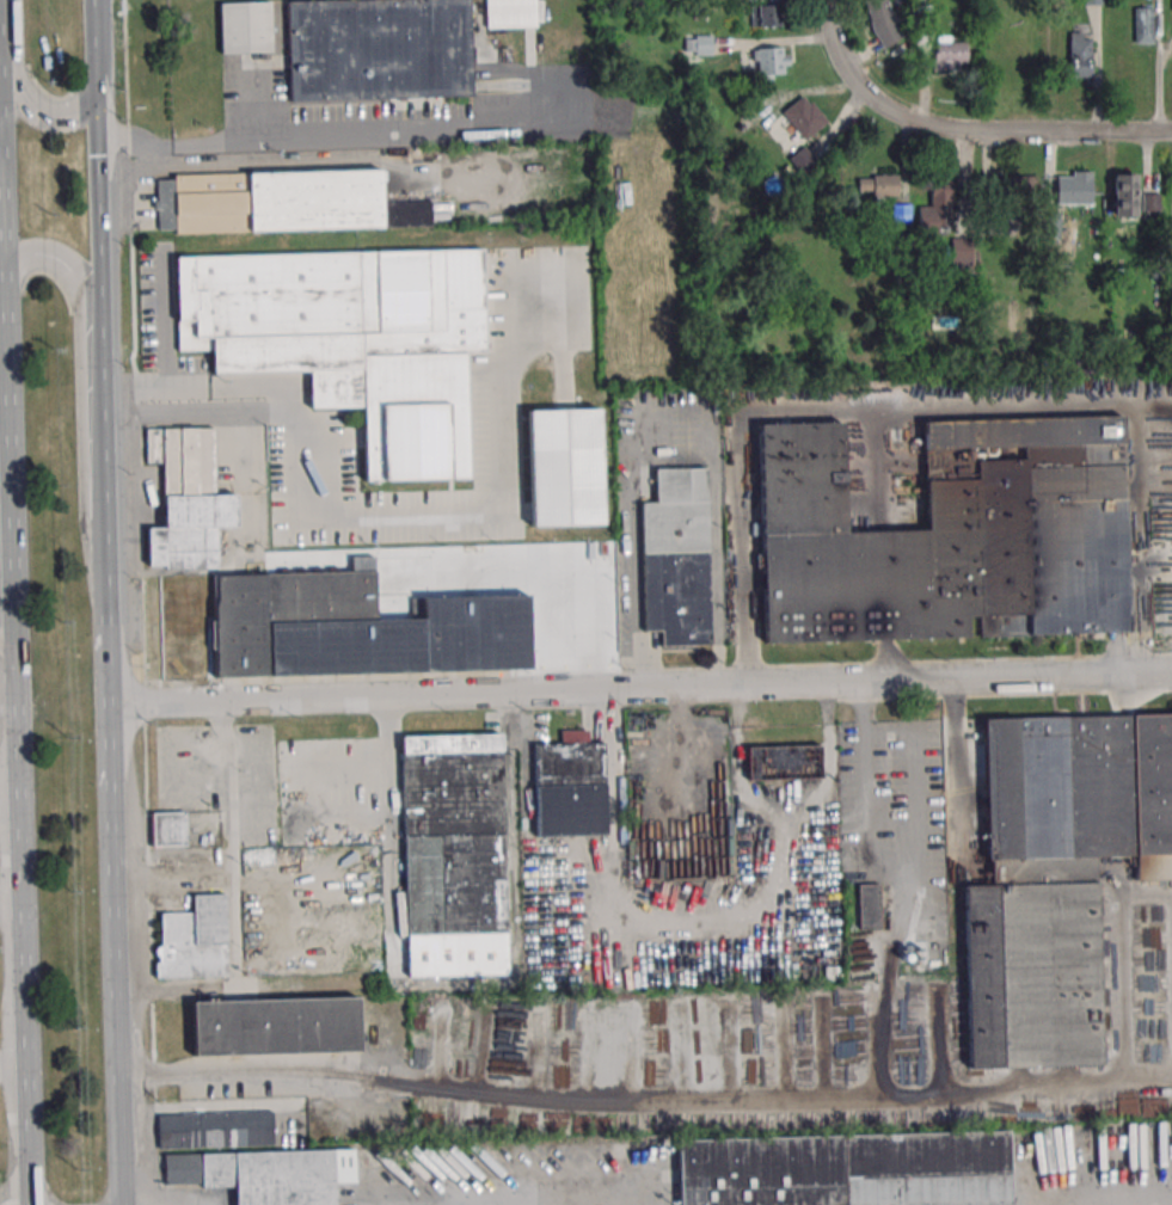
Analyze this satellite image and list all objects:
building: (510, 13)
building: (765, 14)
building: (883, 21)
building: (1143, 25)
building: (243, 27)
building: (698, 44)
road: (94, 47)
building: (378, 49)
building: (949, 54)
building: (1079, 54)
building: (772, 61)
road: (24, 90)
traffic signals: (96, 93)
building: (803, 116)
road: (958, 130)
road: (324, 134)
road: (0, 149)
building: (804, 161)
building: (879, 185)
building: (1008, 187)
building: (1074, 187)
building: (1124, 195)
building: (281, 201)
road: (98, 202)
building: (937, 210)
building: (901, 213)
building: (961, 253)
road: (2, 322)
building: (351, 339)
road: (80, 387)
road: (4, 391)
parking lot: (225, 391)
road: (824, 411)
road: (667, 413)
road: (104, 416)
road: (4, 454)
building: (565, 467)
building: (186, 499)
road: (447, 506)
building: (949, 534)
road: (5, 540)
building: (675, 557)
road: (5, 577)
road: (141, 601)
road: (6, 623)
building: (323, 627)
flagpole: (1061, 640)
flagpole: (1075, 640)
flagpole: (1044, 641)
road: (12, 650)
road: (885, 660)
road: (640, 688)
building: (783, 762)
road: (958, 768)
building: (569, 786)
road: (8, 799)
building: (167, 828)
building: (453, 834)
road: (235, 838)
road: (112, 863)
road: (897, 863)
building: (1056, 874)
road: (919, 899)
building: (869, 905)
road: (10, 909)
building: (195, 939)
building: (274, 1026)
road: (12, 1068)
road: (1147, 1089)
road: (619, 1102)
building: (213, 1130)
building: (846, 1170)
building: (264, 1174)
road: (1111, 1200)

